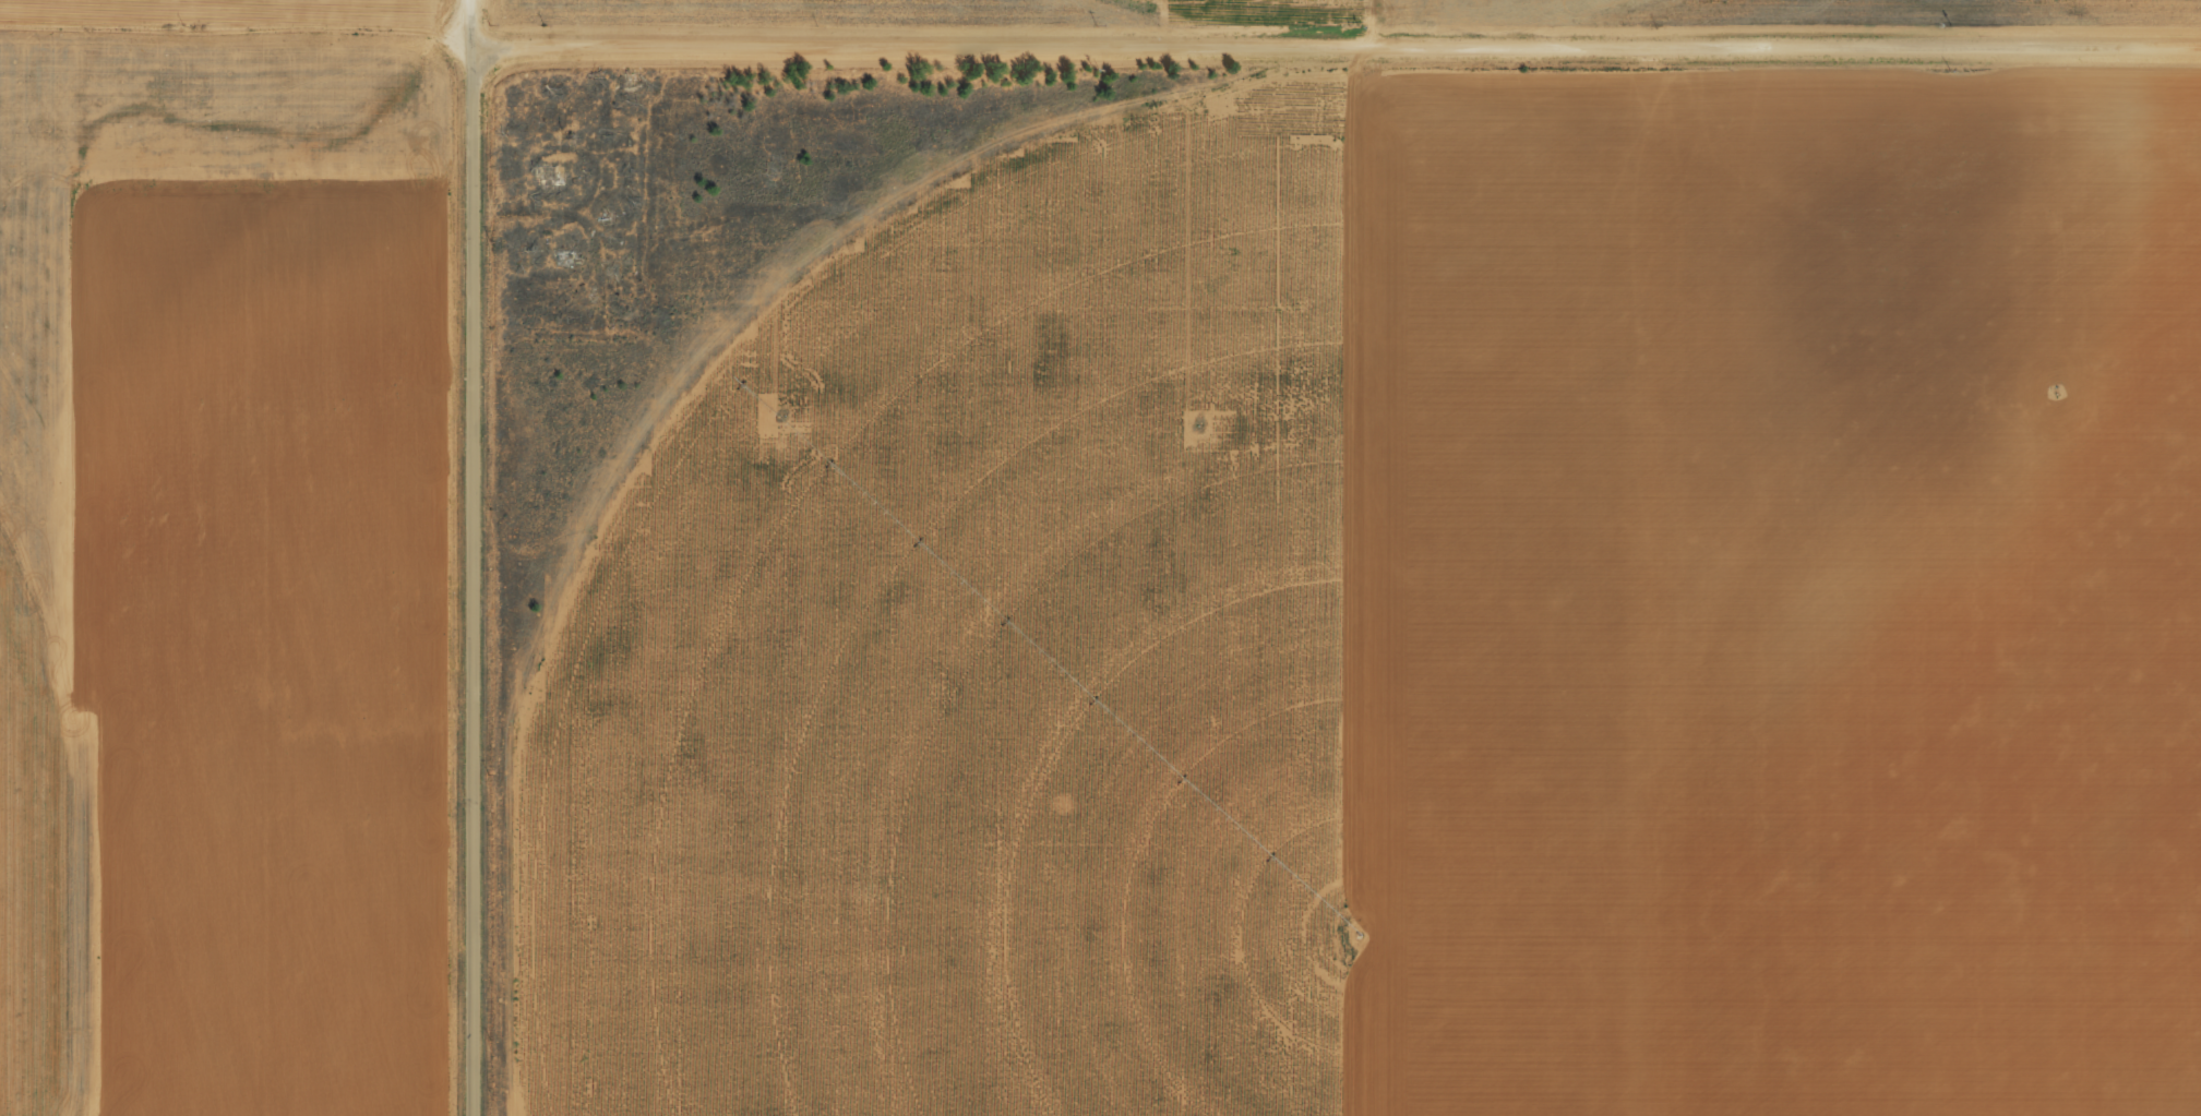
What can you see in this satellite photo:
road: (412, 3)
road: (554, 3)
road: (1612, 9)
road: (474, 557)

